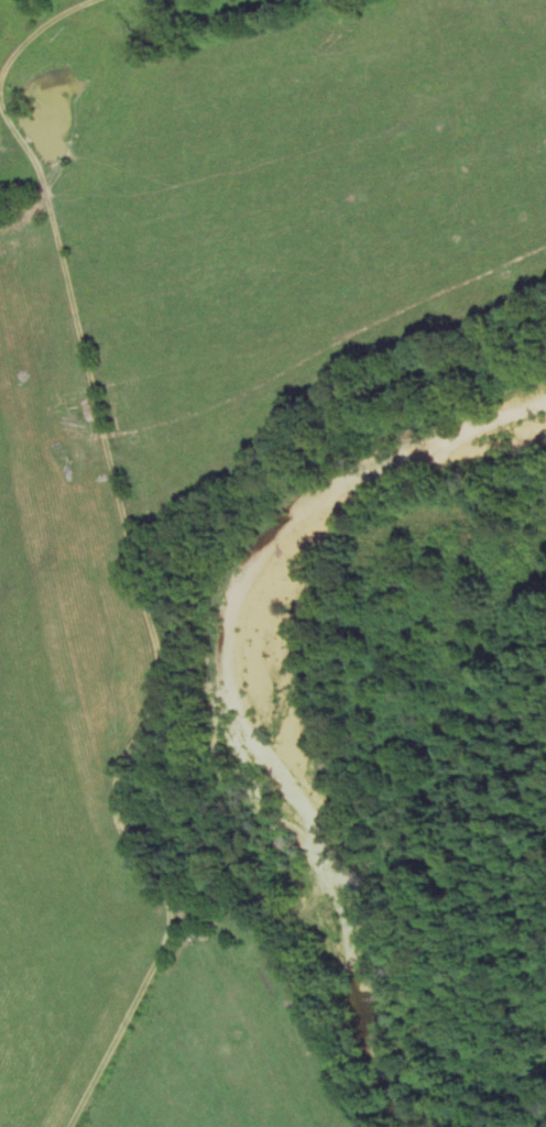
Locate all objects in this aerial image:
road: (138, 552)

